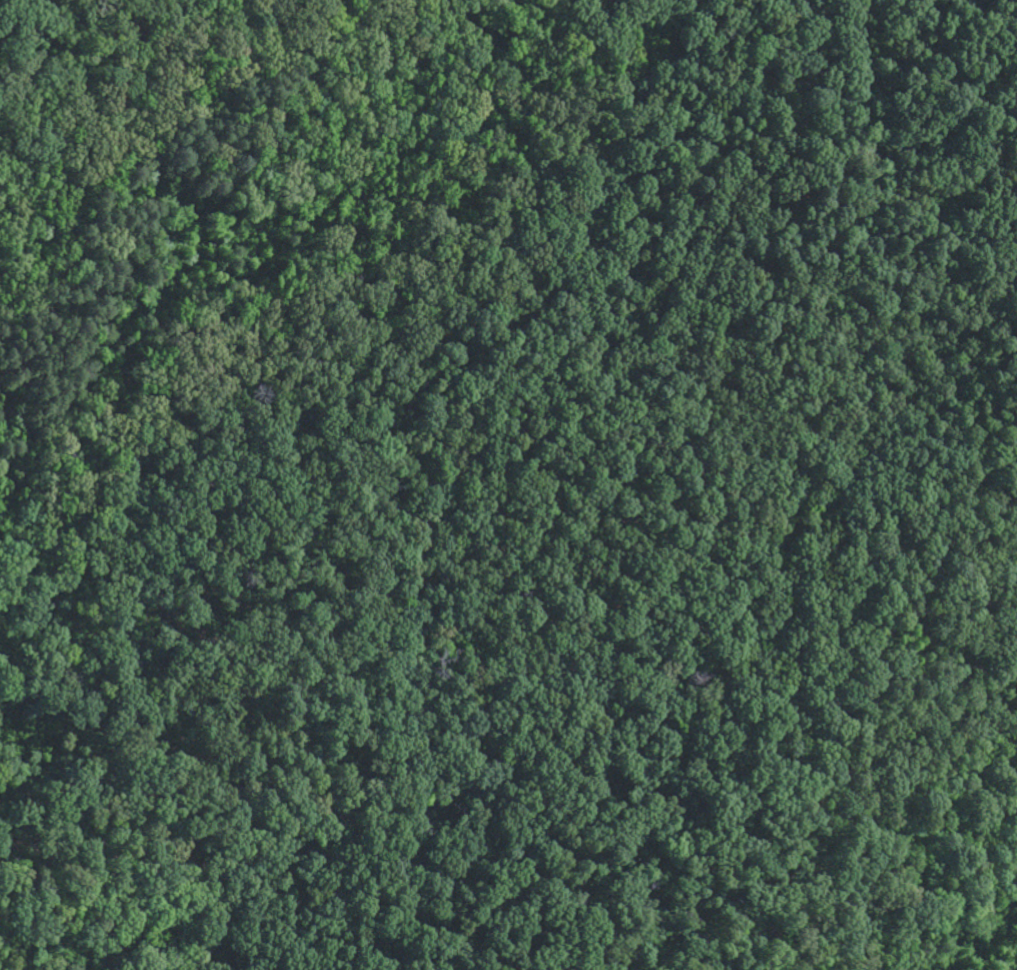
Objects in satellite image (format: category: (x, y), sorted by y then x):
road: (676, 447)

